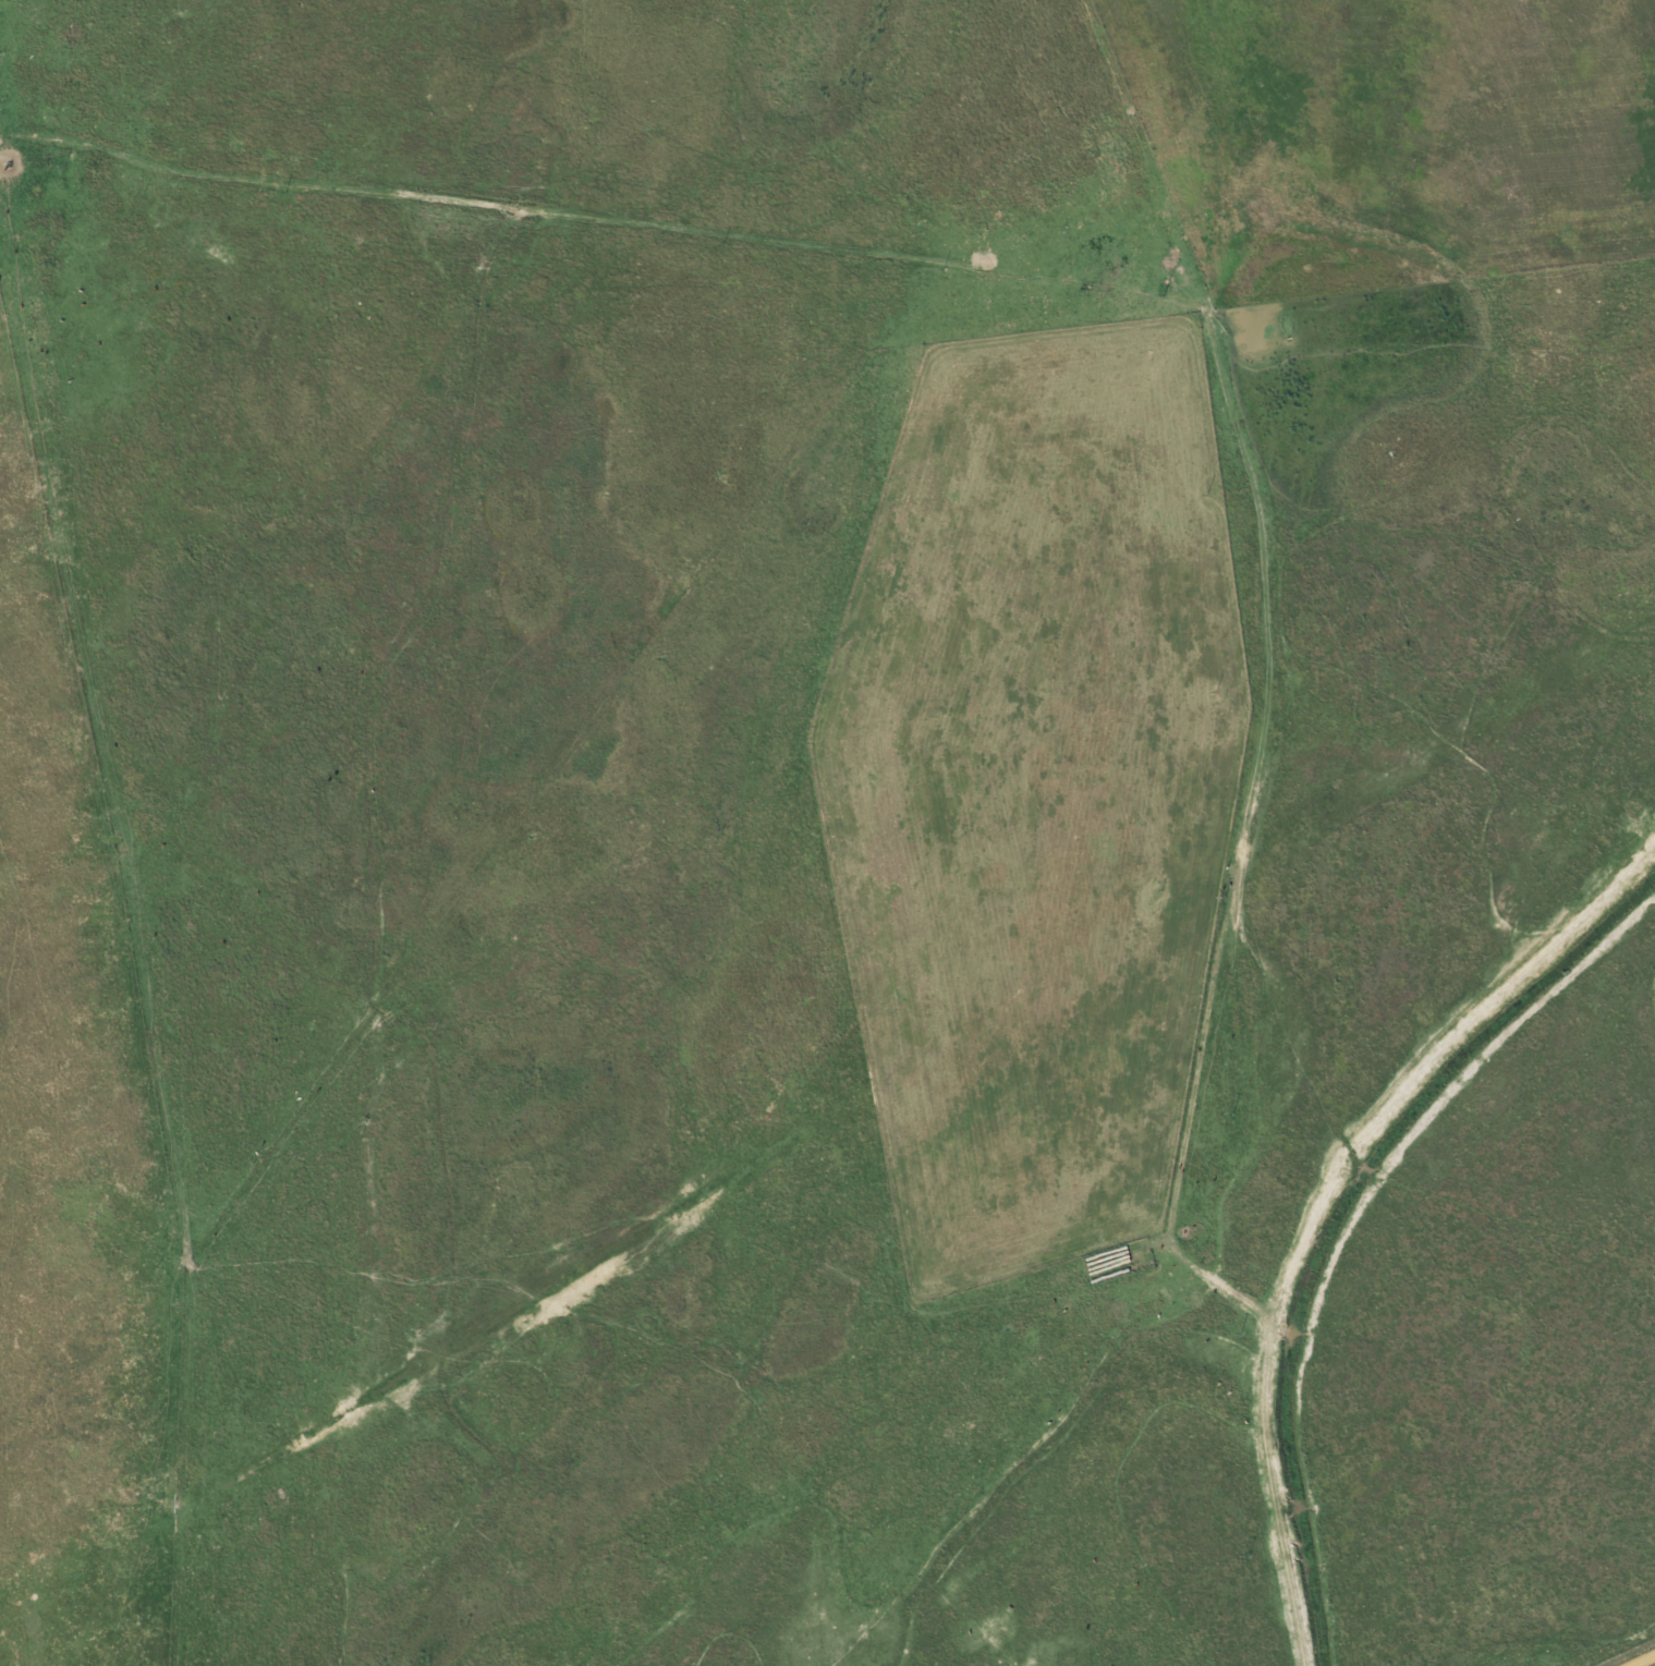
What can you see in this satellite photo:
road: (1635, 1656)

